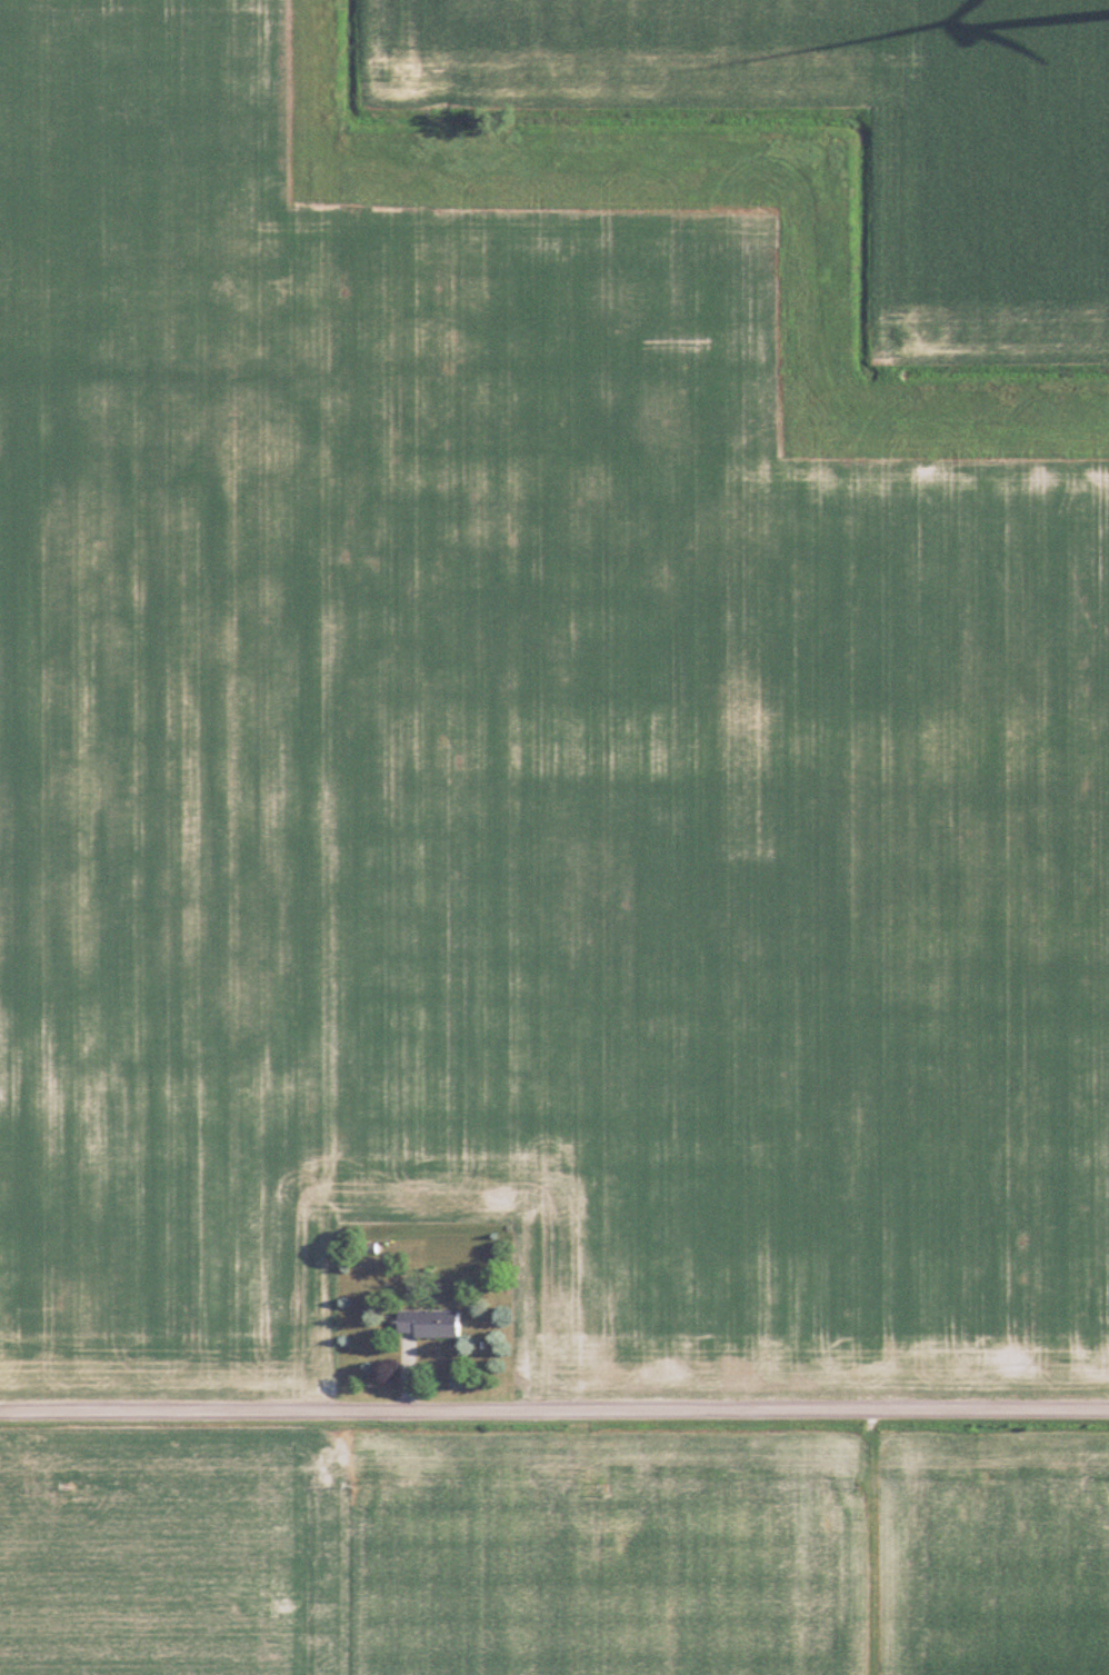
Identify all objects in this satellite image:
building: (423, 1323)
road: (553, 1414)

